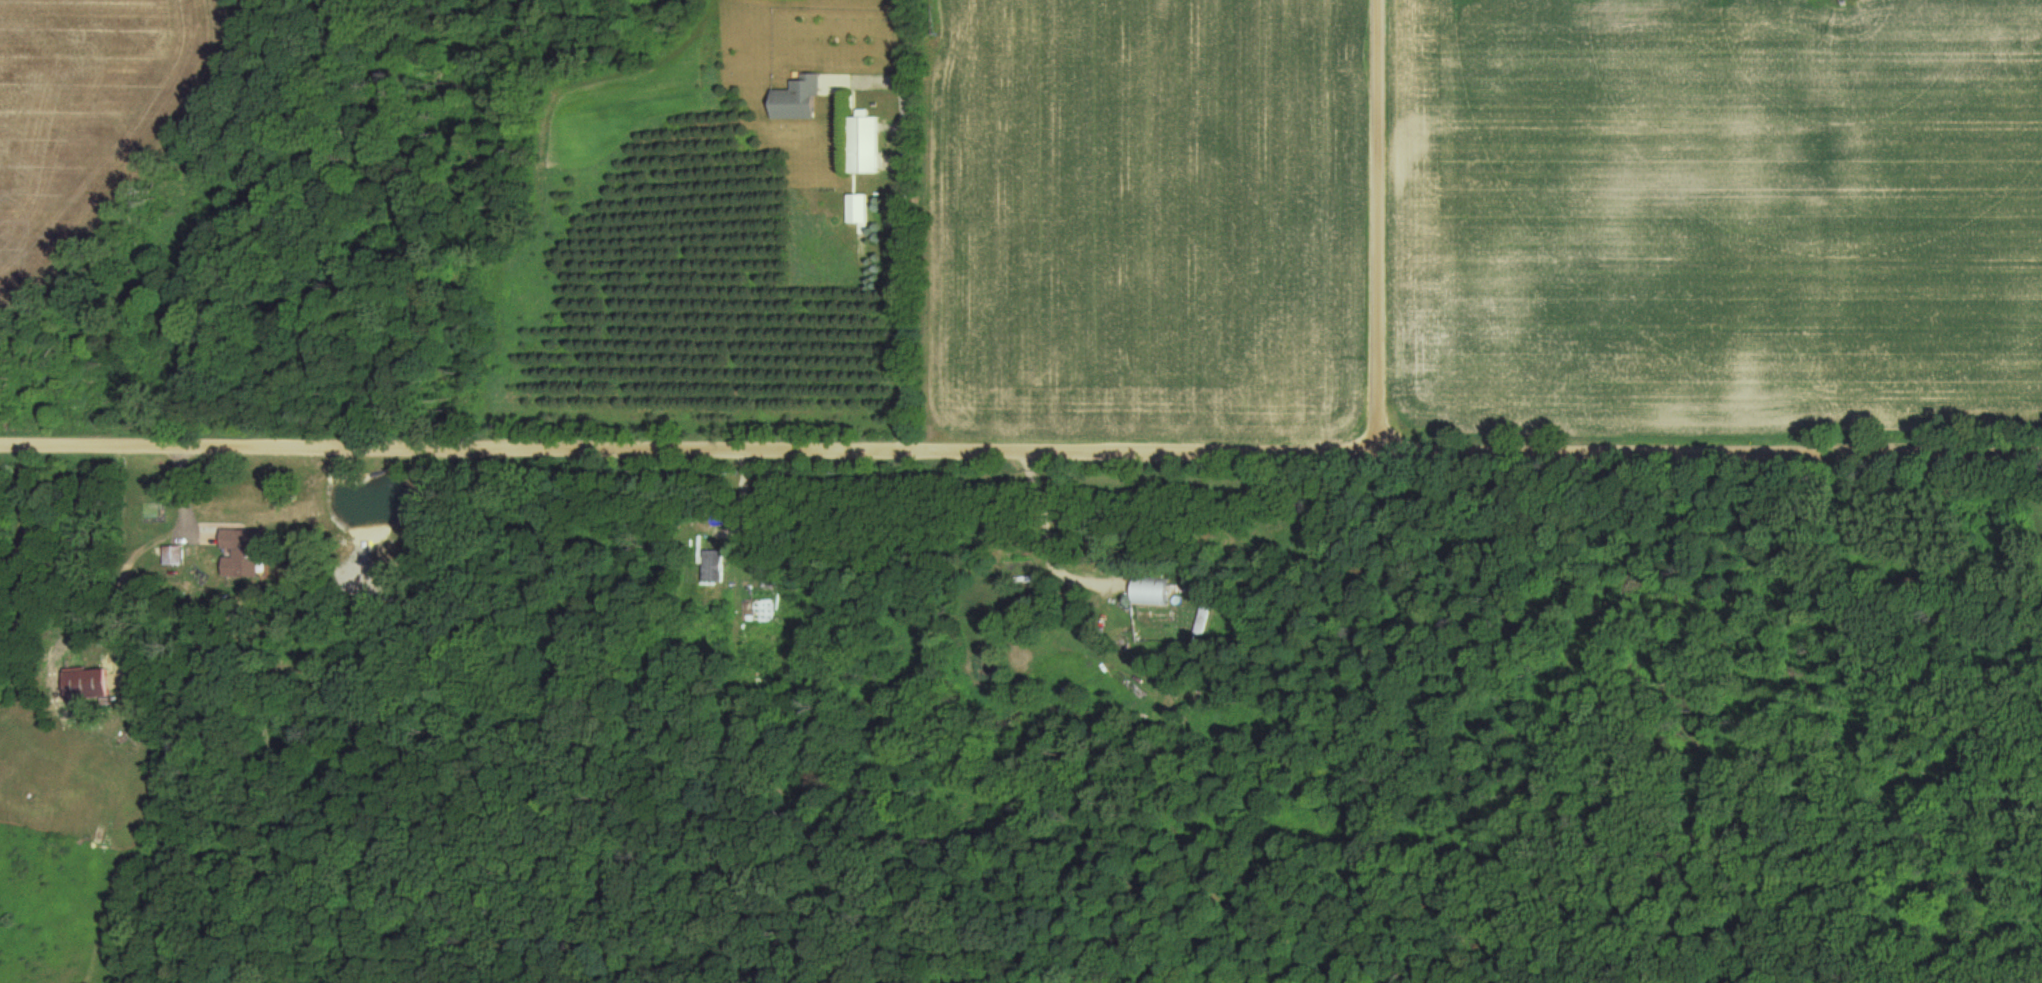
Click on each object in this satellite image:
building: (802, 99)
building: (867, 144)
road: (1375, 224)
road: (1020, 446)
building: (246, 552)
building: (176, 555)
building: (717, 560)
building: (1155, 597)
building: (91, 683)

